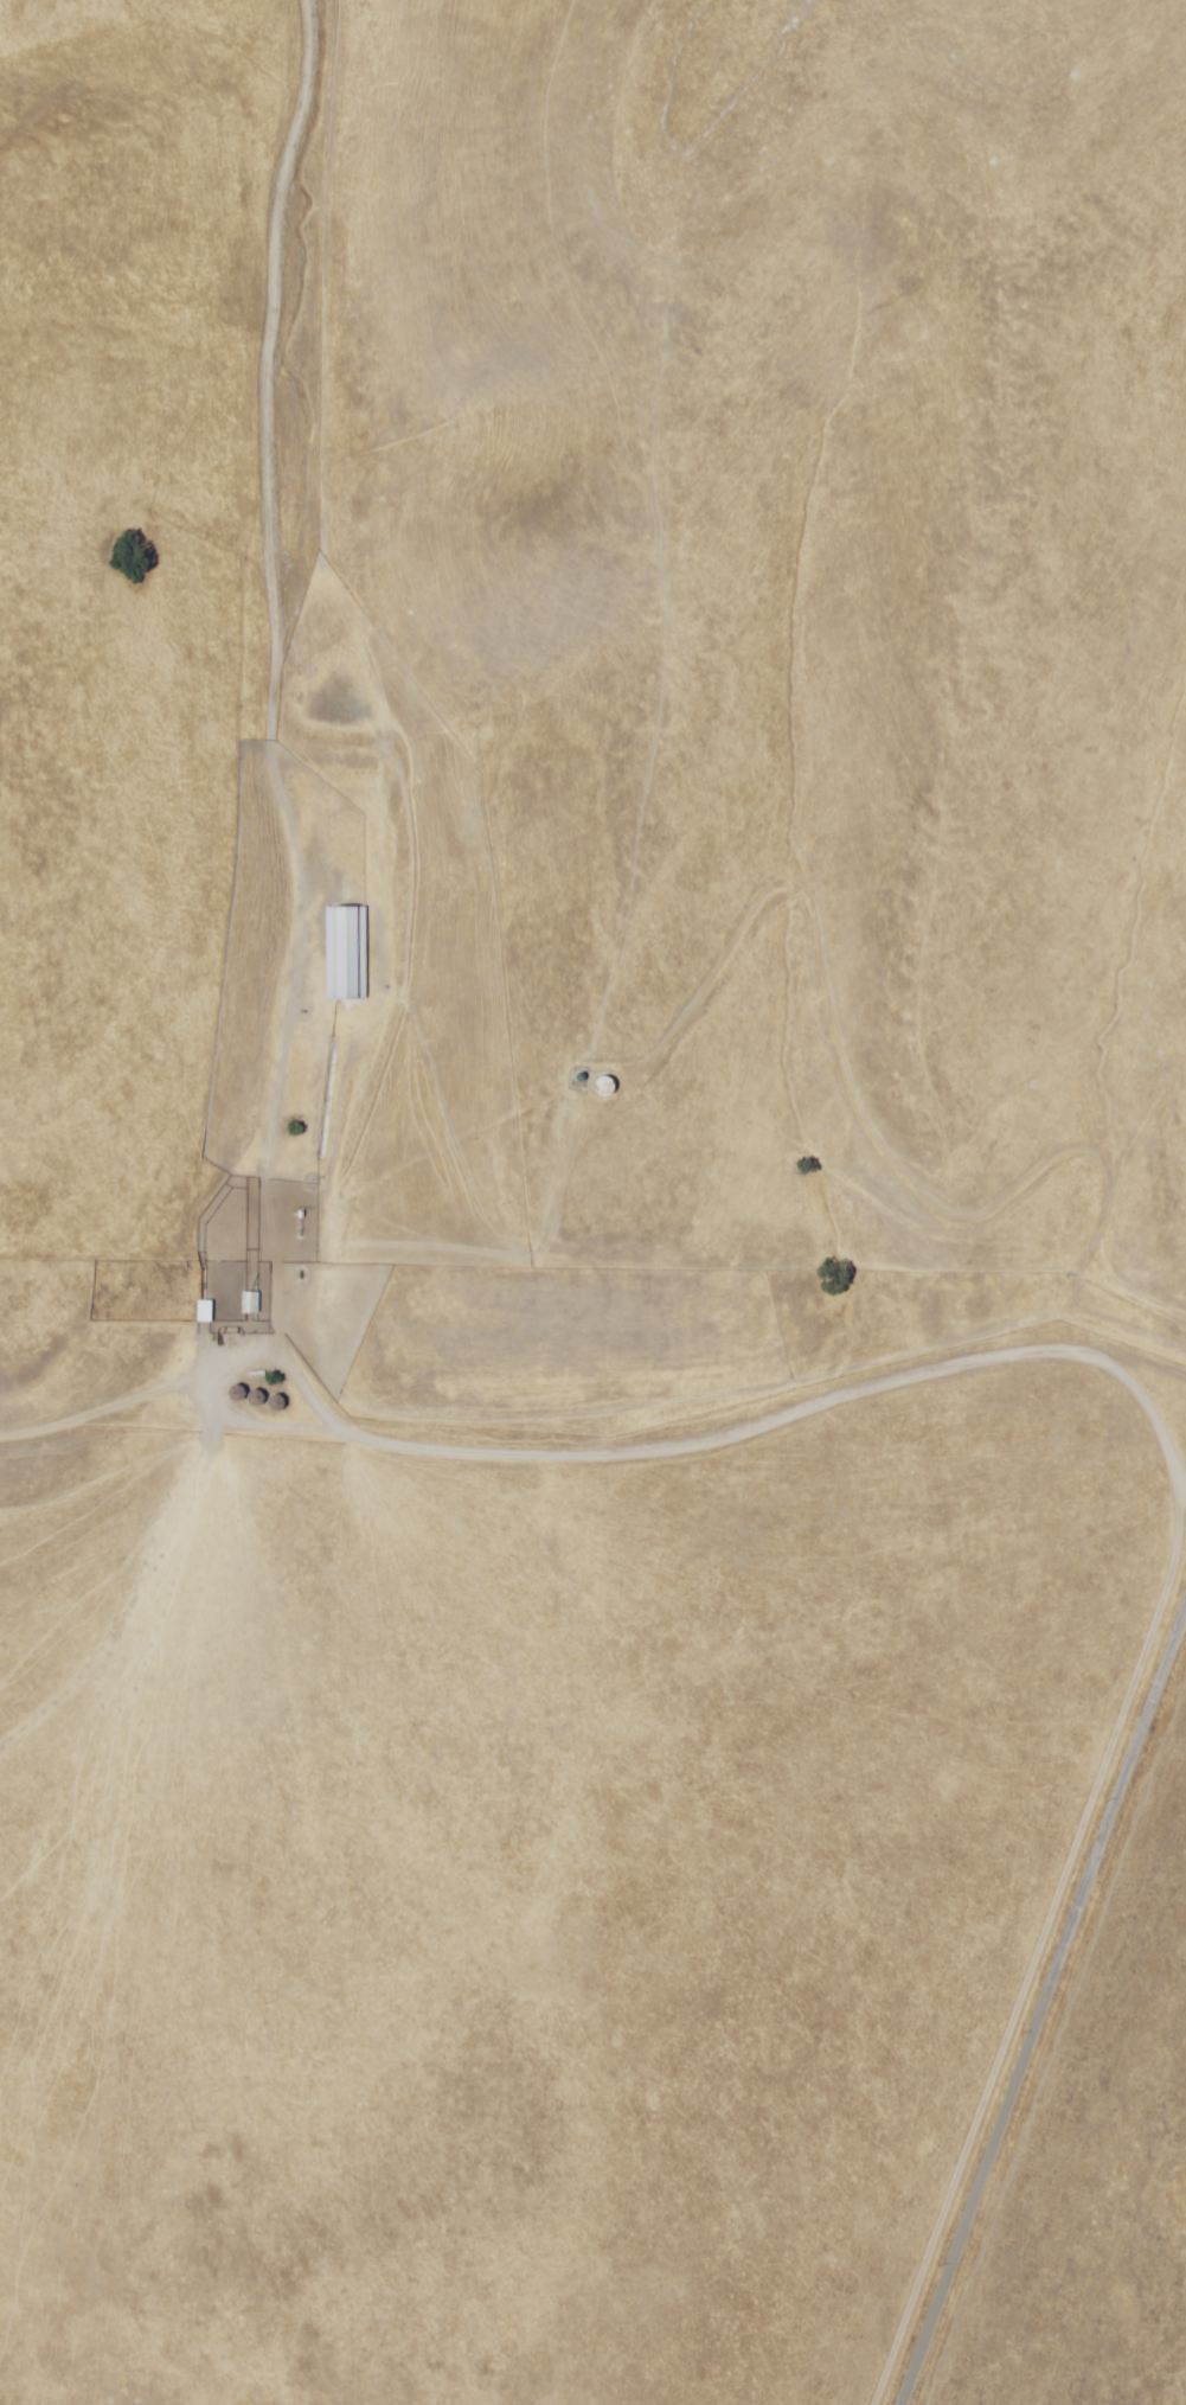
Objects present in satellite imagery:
road: (257, 686)
building: (342, 954)
building: (596, 1087)
building: (246, 1304)
road: (590, 1431)
road: (1044, 2003)

